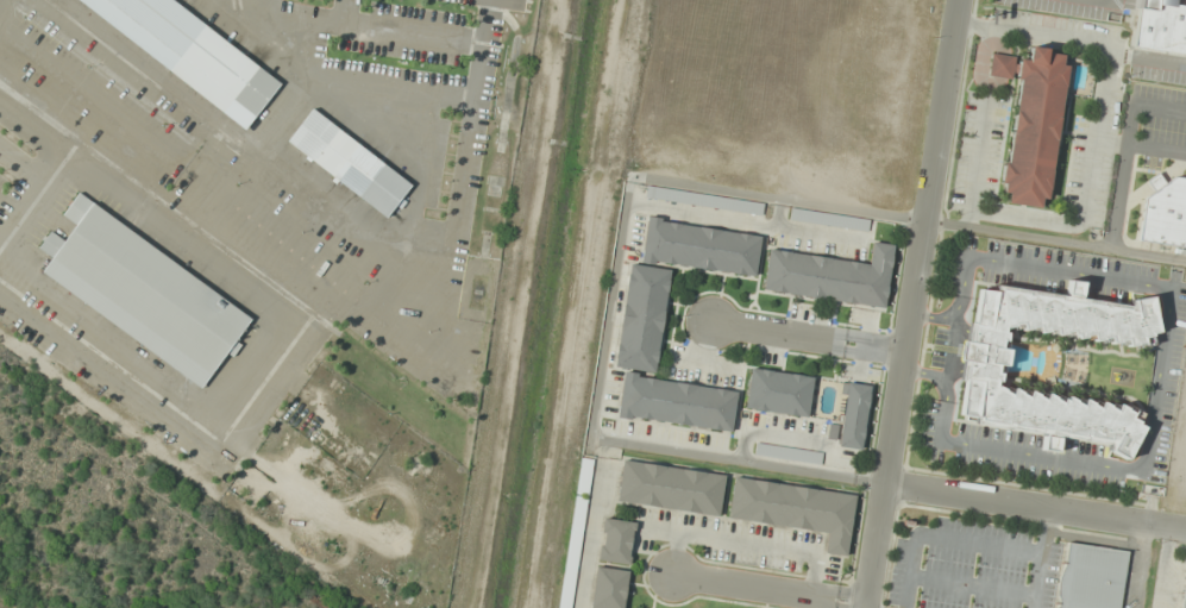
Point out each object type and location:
road: (1, 2)
road: (270, 14)
road: (290, 18)
building: (1160, 26)
road: (414, 31)
building: (189, 54)
road: (287, 54)
road: (395, 84)
building: (1033, 127)
road: (42, 136)
building: (350, 163)
road: (29, 182)
road: (4, 209)
building: (1165, 212)
building: (828, 219)
road: (1053, 239)
building: (701, 247)
building: (830, 276)
building: (144, 293)
road: (343, 301)
road: (906, 303)
building: (642, 318)
road: (807, 332)
road: (950, 347)
building: (984, 366)
road: (1159, 381)
building: (778, 391)
building: (854, 415)
building: (671, 487)
road: (1034, 503)
building: (795, 509)
building: (616, 540)
building: (572, 552)
building: (1091, 577)
building: (610, 588)
road: (767, 589)
building: (1184, 594)

